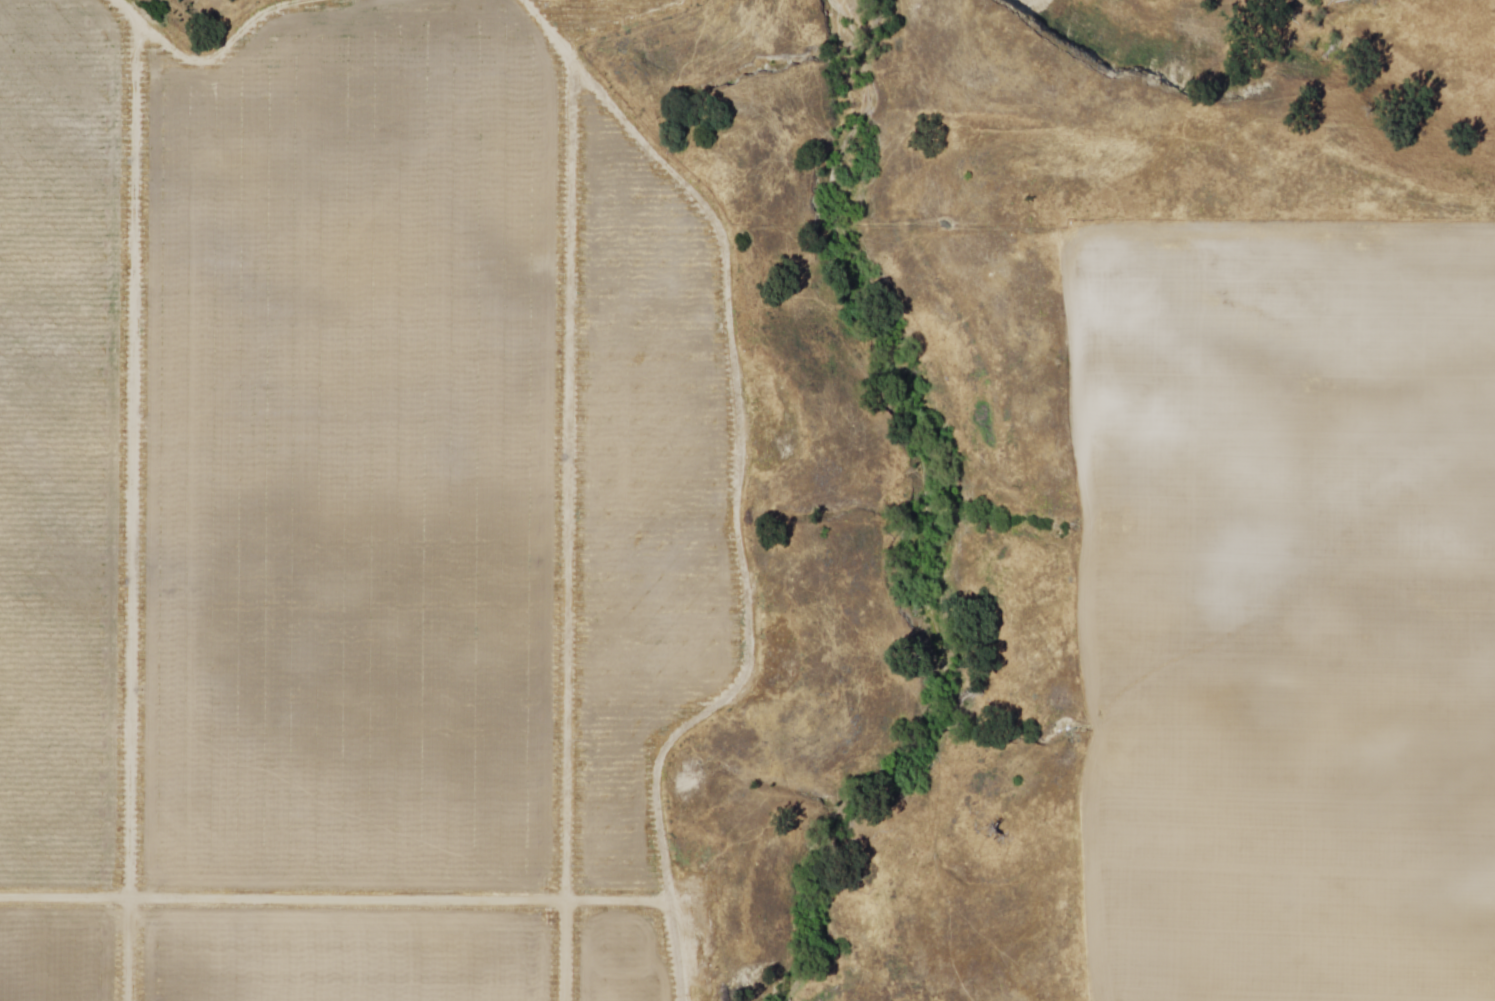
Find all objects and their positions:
road: (212, 59)
road: (739, 482)
road: (133, 510)
road: (571, 528)
road: (335, 900)

